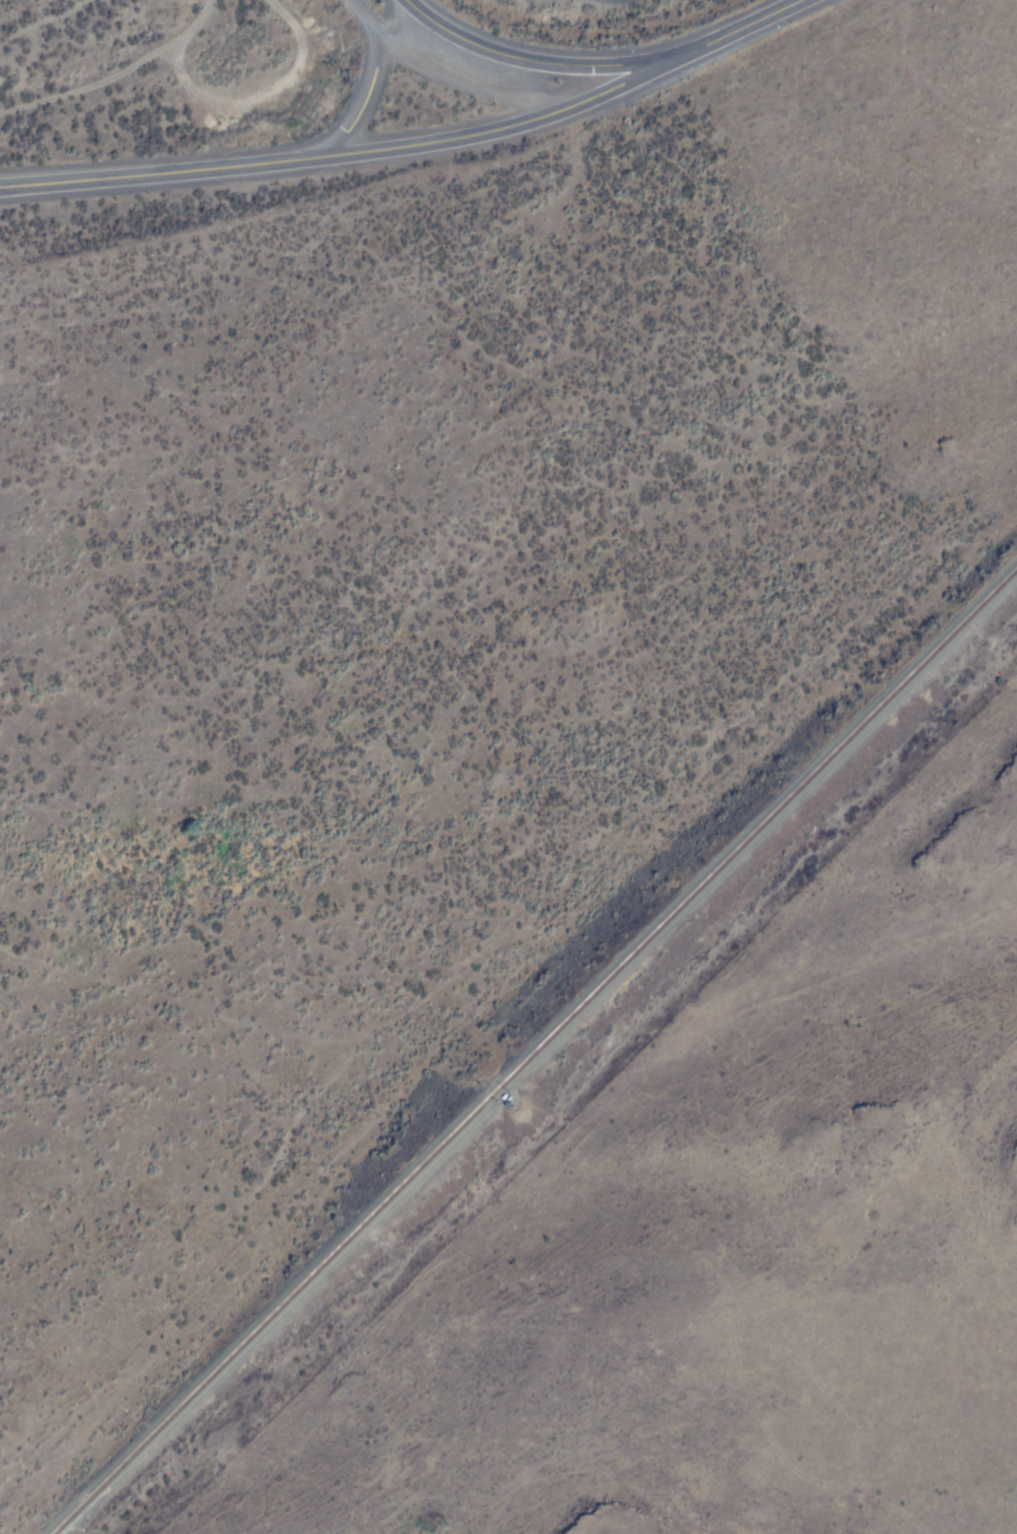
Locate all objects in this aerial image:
road: (548, 64)
road: (114, 73)
road: (358, 75)
road: (464, 83)
road: (433, 143)
road: (18, 187)
road: (18, 188)
railway: (545, 1057)

